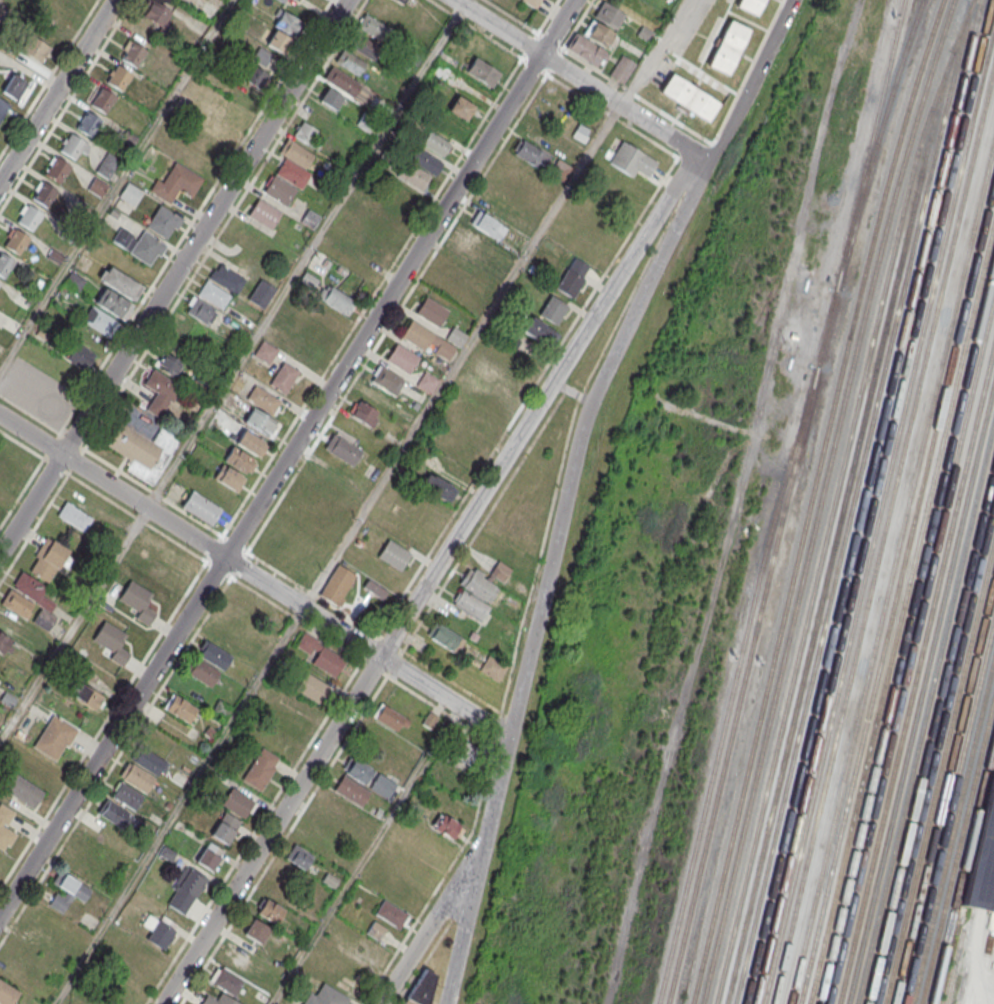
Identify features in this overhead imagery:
building: (283, 0)
building: (399, 1)
building: (532, 3)
building: (750, 6)
building: (63, 7)
building: (155, 12)
building: (608, 14)
building: (286, 22)
building: (374, 27)
building: (278, 41)
building: (592, 43)
building: (364, 46)
building: (35, 48)
building: (728, 48)
road: (661, 53)
road: (514, 54)
building: (133, 55)
building: (260, 57)
building: (349, 62)
building: (622, 69)
building: (483, 72)
building: (254, 75)
road: (48, 77)
building: (119, 79)
road: (753, 79)
road: (580, 80)
building: (341, 81)
building: (15, 87)
road: (56, 90)
building: (330, 98)
park: (550, 99)
building: (689, 99)
building: (102, 101)
road: (66, 105)
building: (459, 107)
building: (3, 108)
building: (88, 124)
building: (307, 135)
building: (436, 143)
railway: (874, 143)
railway: (868, 144)
building: (73, 147)
building: (295, 152)
building: (530, 153)
building: (631, 159)
building: (107, 165)
building: (57, 170)
building: (419, 171)
building: (292, 173)
building: (175, 183)
road: (115, 184)
building: (96, 187)
building: (279, 190)
building: (129, 194)
building: (401, 194)
building: (43, 195)
building: (377, 205)
building: (263, 213)
road: (195, 216)
building: (29, 218)
building: (162, 221)
building: (482, 233)
building: (16, 243)
building: (146, 247)
road: (306, 254)
building: (4, 266)
building: (455, 275)
road: (173, 276)
building: (572, 276)
building: (226, 278)
building: (307, 280)
building: (73, 281)
building: (120, 283)
building: (213, 293)
building: (261, 293)
road: (181, 294)
building: (334, 298)
building: (111, 302)
building: (552, 309)
building: (201, 311)
building: (431, 312)
building: (99, 320)
building: (540, 331)
building: (433, 340)
building: (513, 340)
building: (264, 351)
building: (78, 355)
building: (402, 357)
road: (462, 357)
building: (168, 364)
building: (479, 375)
building: (283, 376)
building: (387, 379)
building: (427, 382)
building: (160, 392)
building: (263, 399)
building: (364, 413)
road: (29, 414)
building: (261, 422)
building: (249, 442)
road: (21, 445)
building: (342, 448)
road: (82, 449)
building: (144, 450)
road: (288, 458)
building: (238, 459)
building: (228, 477)
building: (438, 487)
road: (21, 493)
railway: (833, 499)
railway: (808, 500)
railway: (819, 500)
railway: (851, 501)
railway: (860, 502)
railway: (871, 502)
building: (201, 507)
railway: (877, 512)
building: (73, 517)
road: (136, 518)
railway: (836, 526)
road: (34, 528)
railway: (882, 532)
road: (247, 553)
building: (394, 556)
building: (48, 560)
railway: (891, 568)
road: (550, 570)
building: (162, 574)
road: (433, 576)
road: (254, 577)
building: (337, 586)
building: (480, 590)
railway: (896, 590)
building: (30, 600)
building: (138, 602)
road: (325, 602)
railway: (900, 609)
road: (73, 623)
railway: (904, 628)
building: (445, 637)
building: (4, 642)
building: (112, 643)
railway: (750, 646)
railway: (909, 647)
building: (213, 653)
building: (321, 656)
building: (493, 668)
railway: (915, 670)
building: (202, 672)
building: (312, 689)
railway: (920, 690)
building: (87, 696)
road: (156, 696)
building: (179, 707)
railway: (924, 710)
building: (390, 717)
building: (430, 719)
road: (103, 726)
railway: (929, 731)
railway: (720, 734)
building: (55, 738)
railway: (933, 750)
building: (466, 753)
building: (147, 759)
railway: (938, 767)
building: (357, 769)
building: (260, 770)
building: (136, 778)
building: (382, 786)
railway: (943, 789)
building: (22, 790)
building: (352, 790)
building: (127, 797)
building: (238, 804)
road: (179, 805)
road: (270, 807)
railway: (947, 808)
building: (114, 814)
building: (323, 822)
building: (5, 826)
building: (447, 826)
building: (225, 828)
railway: (952, 828)
building: (314, 842)
railway: (956, 846)
building: (167, 854)
road: (367, 855)
building: (208, 856)
building: (298, 857)
building: (982, 858)
railway: (961, 867)
building: (186, 890)
building: (66, 891)
building: (269, 911)
building: (391, 914)
road: (419, 918)
road: (434, 919)
building: (376, 930)
building: (256, 931)
building: (157, 934)
road: (425, 962)
building: (7, 994)
building: (326, 996)
building: (218, 1000)

